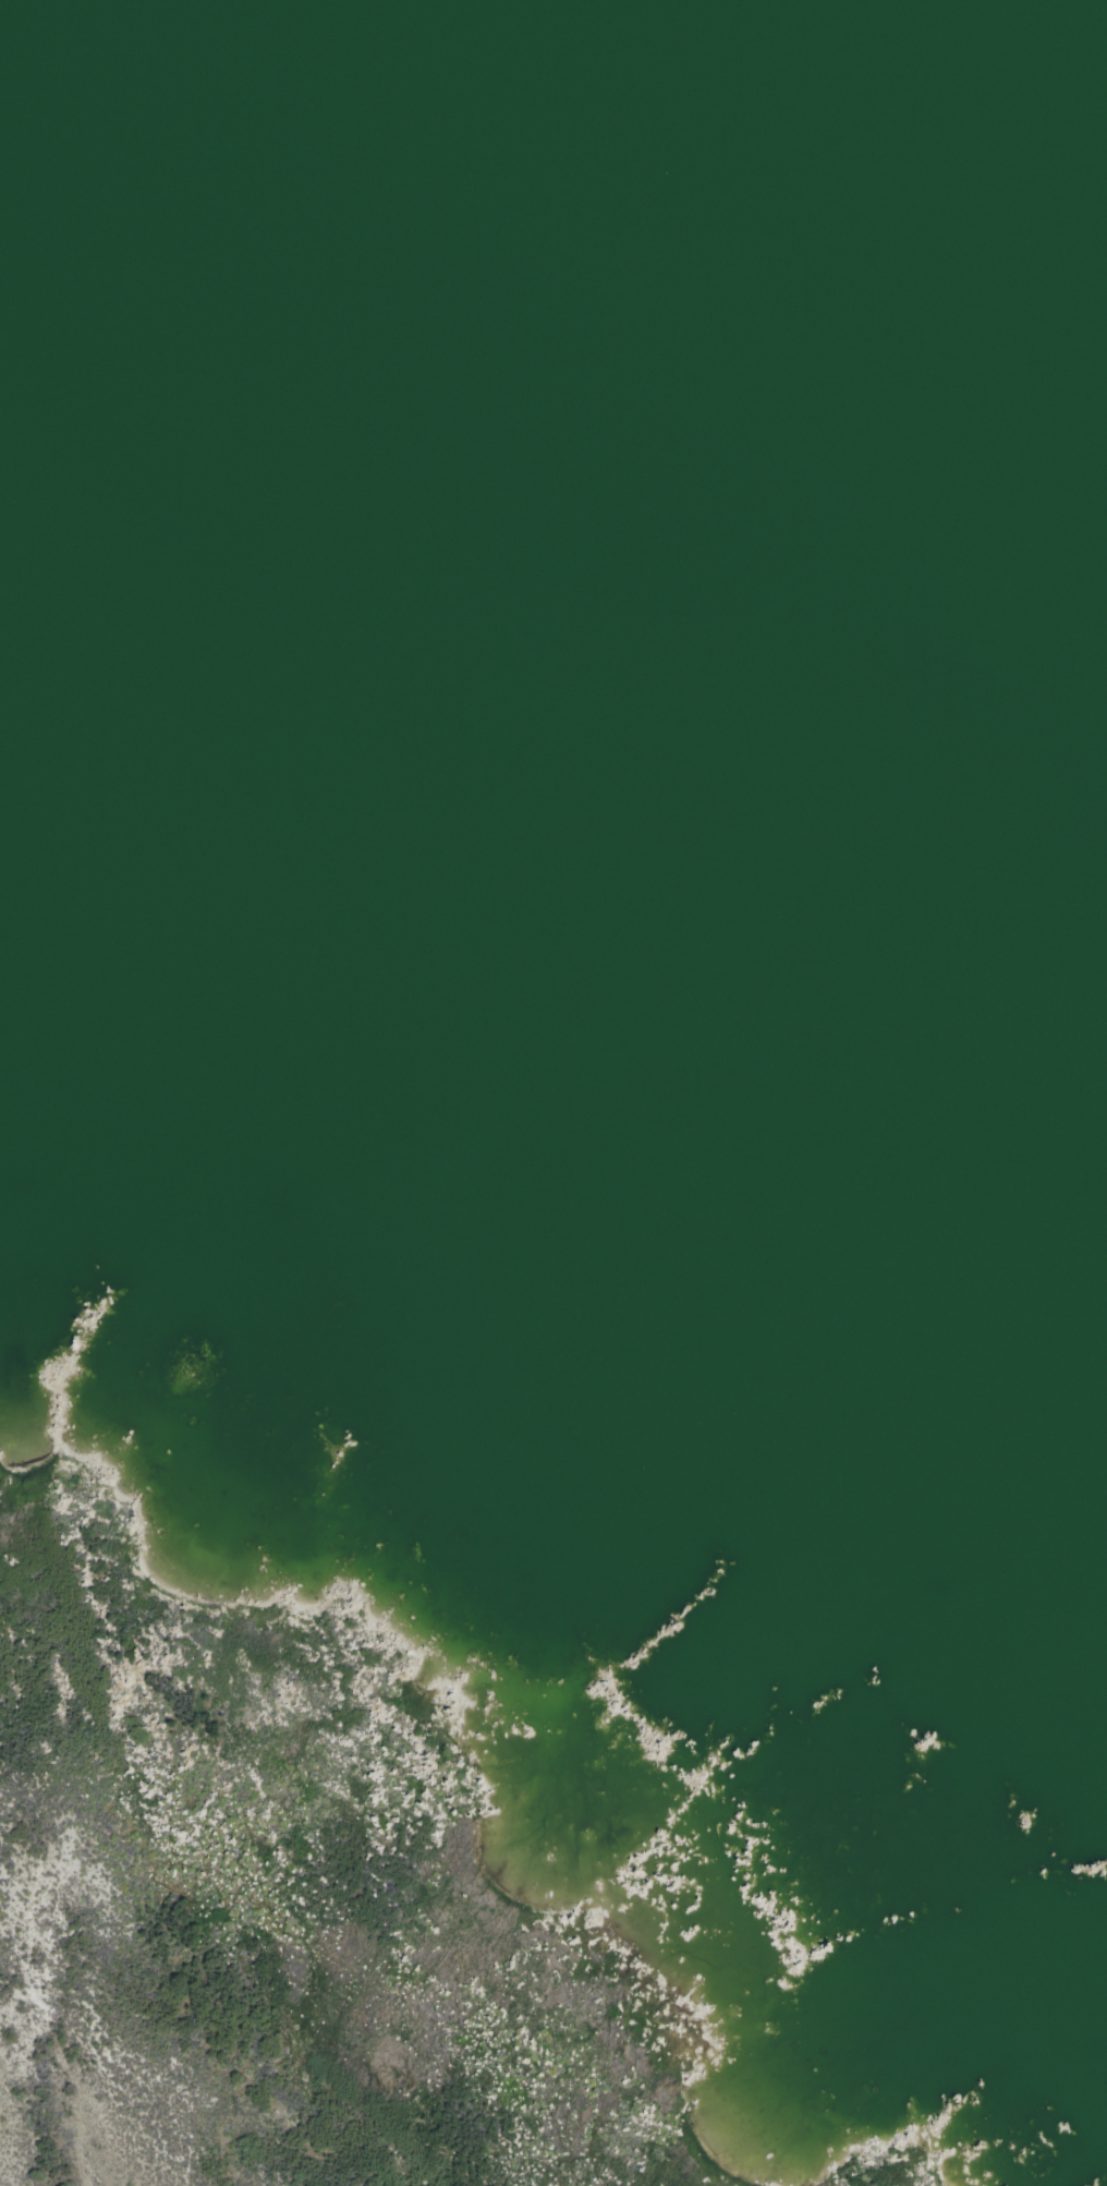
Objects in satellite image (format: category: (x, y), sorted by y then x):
road: (68, 2152)

